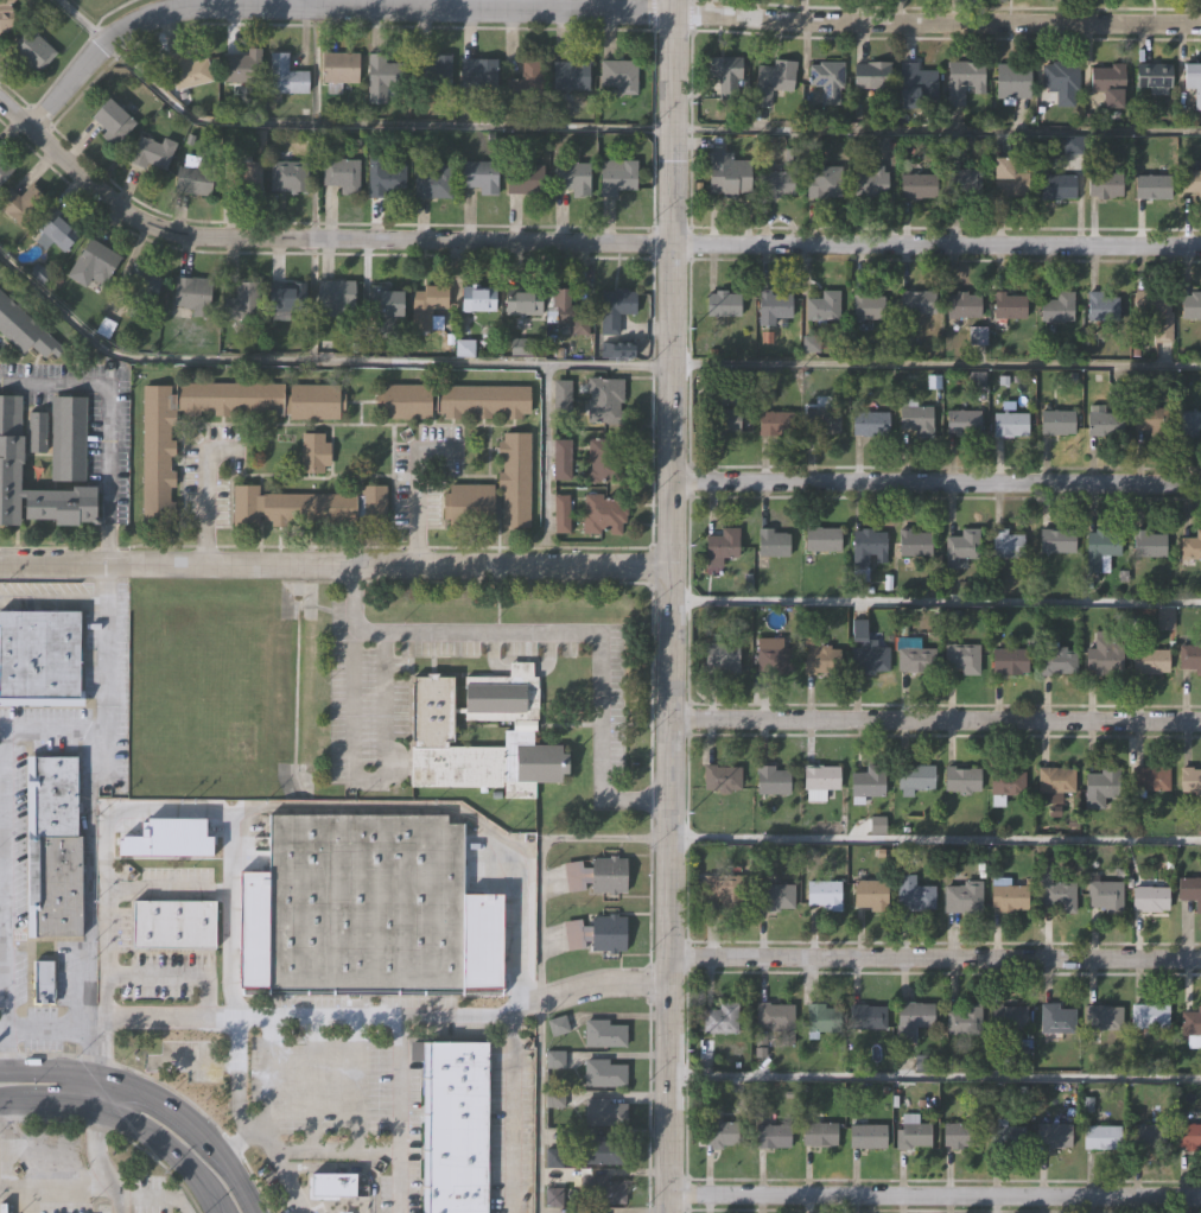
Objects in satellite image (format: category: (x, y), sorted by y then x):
road: (298, 1)
road: (328, 4)
park: (103, 8)
building: (6, 15)
road: (924, 24)
building: (34, 51)
building: (241, 68)
building: (337, 68)
building: (185, 71)
building: (436, 71)
building: (727, 74)
building: (476, 75)
building: (870, 75)
building: (284, 76)
building: (568, 76)
building: (617, 76)
building: (1155, 76)
building: (380, 77)
building: (771, 78)
building: (825, 78)
building: (917, 78)
building: (1062, 78)
building: (962, 80)
building: (1015, 80)
building: (1194, 81)
building: (1112, 82)
building: (525, 84)
road: (38, 118)
building: (108, 122)
road: (605, 129)
building: (1074, 141)
building: (150, 154)
building: (5, 170)
building: (730, 171)
building: (339, 174)
building: (1009, 176)
building: (192, 177)
building: (476, 177)
building: (286, 178)
building: (570, 178)
building: (617, 178)
building: (962, 178)
building: (241, 179)
building: (385, 179)
building: (869, 179)
building: (1192, 179)
building: (522, 180)
building: (779, 182)
building: (1106, 182)
building: (431, 184)
building: (826, 184)
building: (916, 184)
building: (1060, 184)
building: (1155, 184)
building: (23, 204)
building: (53, 234)
road: (577, 240)
building: (94, 266)
building: (145, 282)
building: (191, 294)
building: (333, 296)
building: (285, 297)
building: (476, 301)
building: (724, 301)
building: (919, 301)
building: (241, 303)
building: (520, 303)
building: (1102, 303)
building: (1192, 303)
building: (1060, 304)
building: (822, 305)
building: (962, 305)
building: (383, 306)
building: (425, 306)
building: (773, 306)
building: (866, 306)
building: (1008, 306)
building: (567, 313)
building: (1157, 315)
building: (614, 322)
building: (25, 330)
road: (582, 363)
building: (762, 393)
building: (561, 396)
building: (606, 400)
building: (453, 401)
building: (917, 413)
road: (108, 419)
building: (725, 419)
building: (825, 419)
building: (965, 419)
building: (1152, 419)
building: (1059, 420)
building: (779, 421)
building: (872, 421)
building: (1192, 421)
building: (1011, 423)
building: (1107, 423)
building: (11, 426)
building: (38, 431)
building: (66, 434)
building: (159, 449)
building: (314, 453)
building: (561, 457)
building: (608, 457)
road: (547, 464)
building: (516, 477)
road: (935, 483)
road: (204, 490)
building: (312, 504)
building: (471, 504)
road: (415, 510)
building: (561, 510)
building: (604, 514)
building: (822, 536)
building: (725, 540)
building: (774, 540)
building: (915, 540)
building: (1059, 540)
building: (964, 544)
building: (1008, 544)
building: (1149, 544)
building: (1190, 546)
building: (868, 550)
building: (1102, 550)
road: (335, 564)
road: (935, 603)
road: (669, 605)
road: (366, 633)
road: (411, 633)
building: (822, 654)
building: (1106, 654)
building: (725, 655)
building: (776, 655)
building: (964, 655)
building: (42, 656)
building: (871, 656)
building: (1190, 656)
building: (917, 659)
building: (1011, 659)
building: (1060, 659)
building: (1151, 659)
road: (934, 722)
building: (433, 724)
road: (51, 731)
building: (916, 775)
building: (722, 777)
building: (962, 779)
building: (1149, 779)
building: (771, 780)
building: (819, 780)
building: (1190, 780)
building: (866, 782)
building: (1006, 783)
building: (1054, 783)
building: (1100, 787)
road: (90, 796)
road: (126, 802)
road: (418, 802)
road: (684, 839)
building: (53, 846)
building: (597, 875)
building: (727, 888)
building: (1190, 889)
building: (1057, 890)
building: (827, 891)
building: (873, 891)
building: (777, 894)
building: (915, 894)
building: (1106, 894)
building: (966, 895)
building: (1009, 895)
building: (1151, 896)
road: (6, 900)
building: (367, 904)
building: (176, 922)
building: (596, 933)
road: (107, 940)
road: (234, 955)
road: (934, 958)
building: (43, 980)
road: (108, 995)
building: (868, 1015)
building: (824, 1016)
building: (1149, 1016)
building: (1009, 1017)
building: (1102, 1017)
road: (333, 1018)
building: (722, 1018)
building: (1056, 1018)
building: (776, 1020)
building: (911, 1020)
building: (965, 1020)
building: (557, 1027)
building: (1192, 1027)
building: (604, 1034)
road: (89, 1052)
building: (603, 1074)
road: (934, 1078)
road: (236, 1088)
road: (91, 1090)
road: (154, 1097)
road: (513, 1113)
building: (604, 1113)
road: (398, 1116)
road: (127, 1123)
building: (457, 1126)
building: (914, 1131)
building: (720, 1132)
building: (868, 1132)
building: (820, 1133)
building: (961, 1133)
building: (774, 1135)
building: (1056, 1135)
building: (1009, 1136)
building: (1149, 1136)
building: (1189, 1136)
building: (1104, 1137)
road: (316, 1149)
road: (96, 1150)
building: (602, 1150)
road: (286, 1180)
building: (332, 1186)
road: (49, 1190)
building: (602, 1190)
road: (114, 1194)
road: (934, 1196)
building: (2, 1206)
building: (592, 1212)

